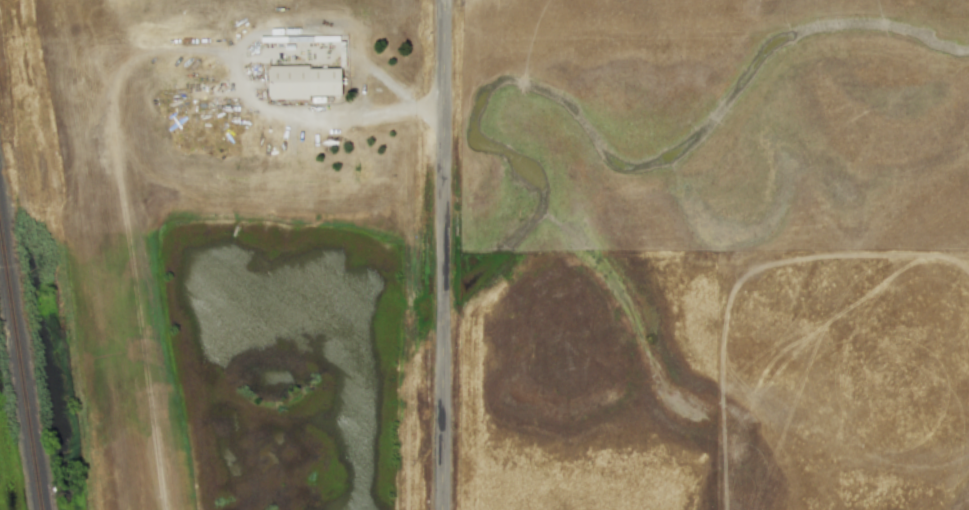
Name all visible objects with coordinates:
road: (247, 41)
building: (302, 81)
road: (356, 86)
road: (445, 255)
railway: (22, 356)

